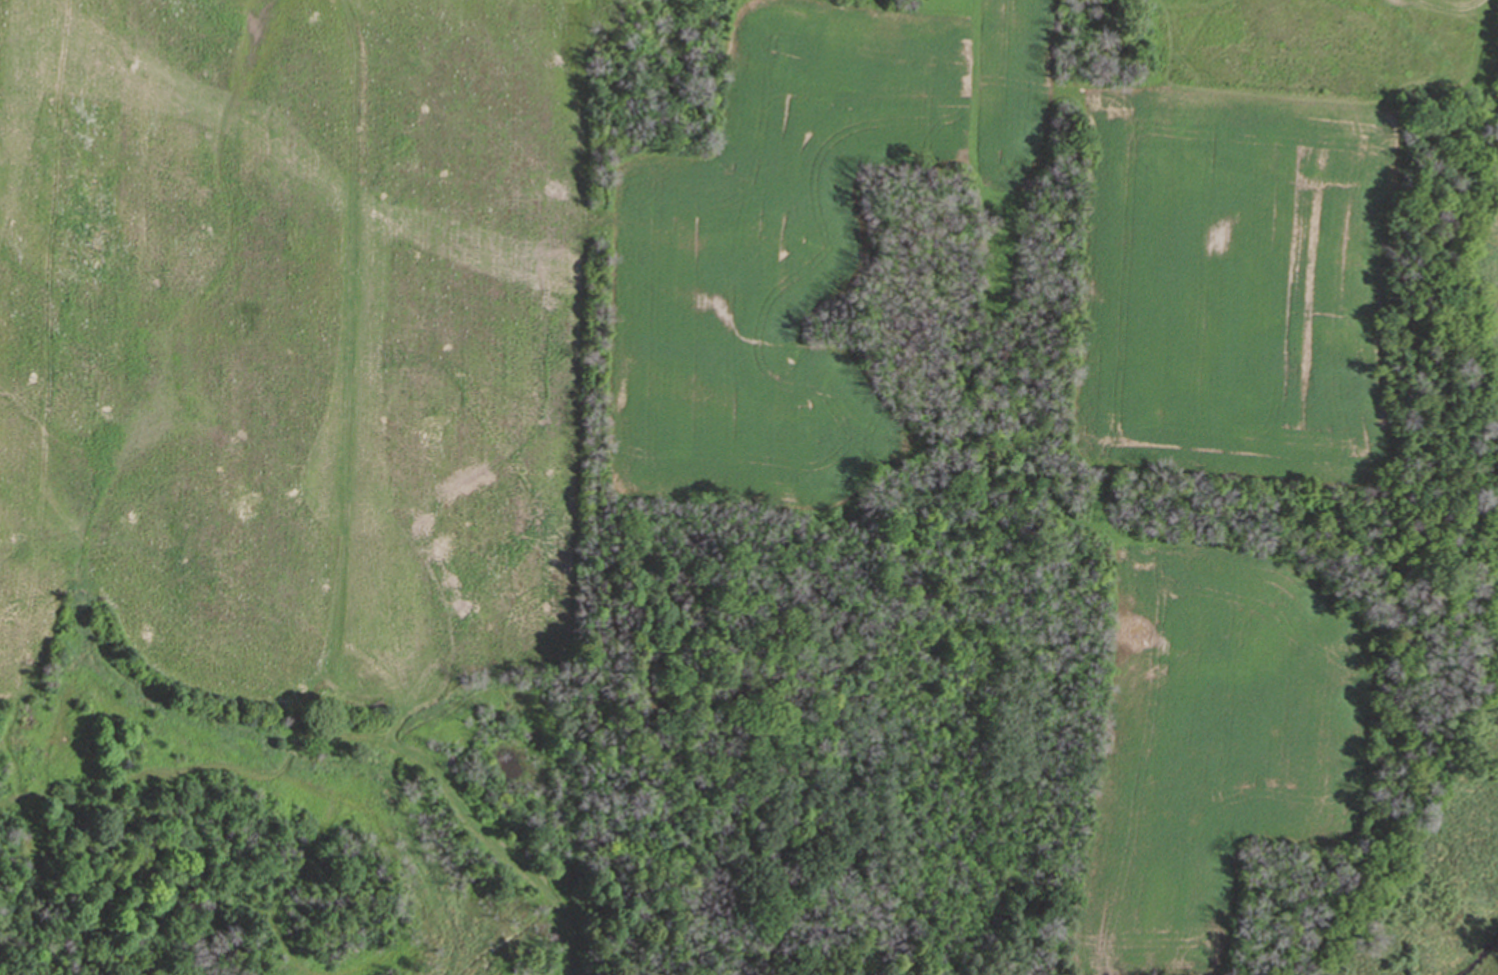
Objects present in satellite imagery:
crop: (566, 306)
crop: (1216, 745)

